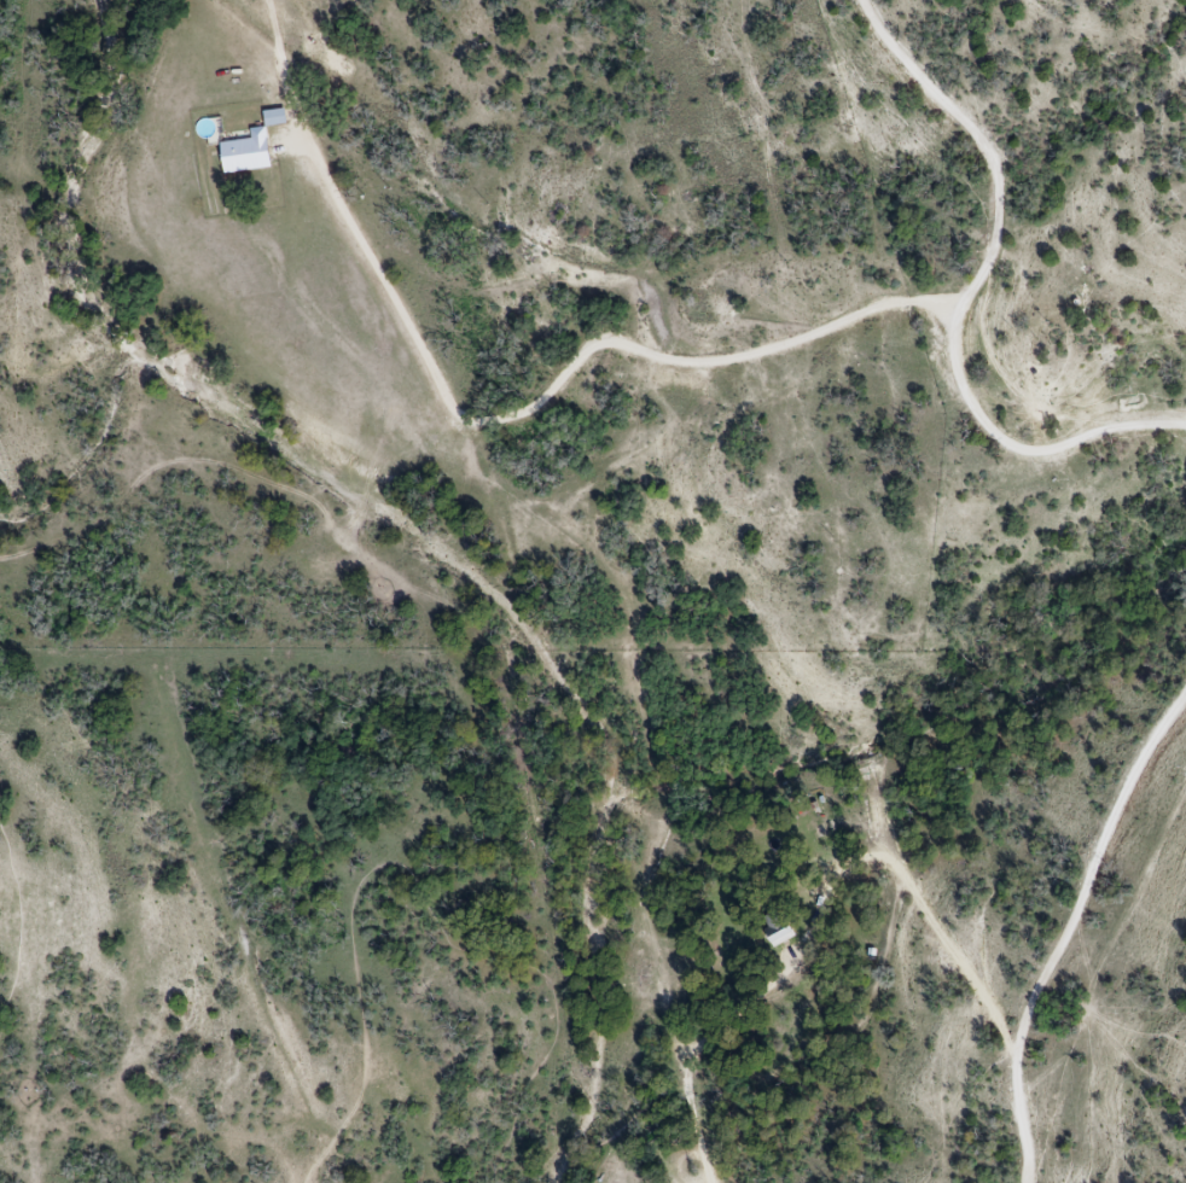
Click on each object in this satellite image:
building: (244, 151)
road: (967, 297)
road: (1182, 695)
road: (415, 881)
road: (815, 904)
road: (17, 925)
building: (774, 927)
road: (1064, 934)
road: (616, 1132)
road: (699, 1136)

